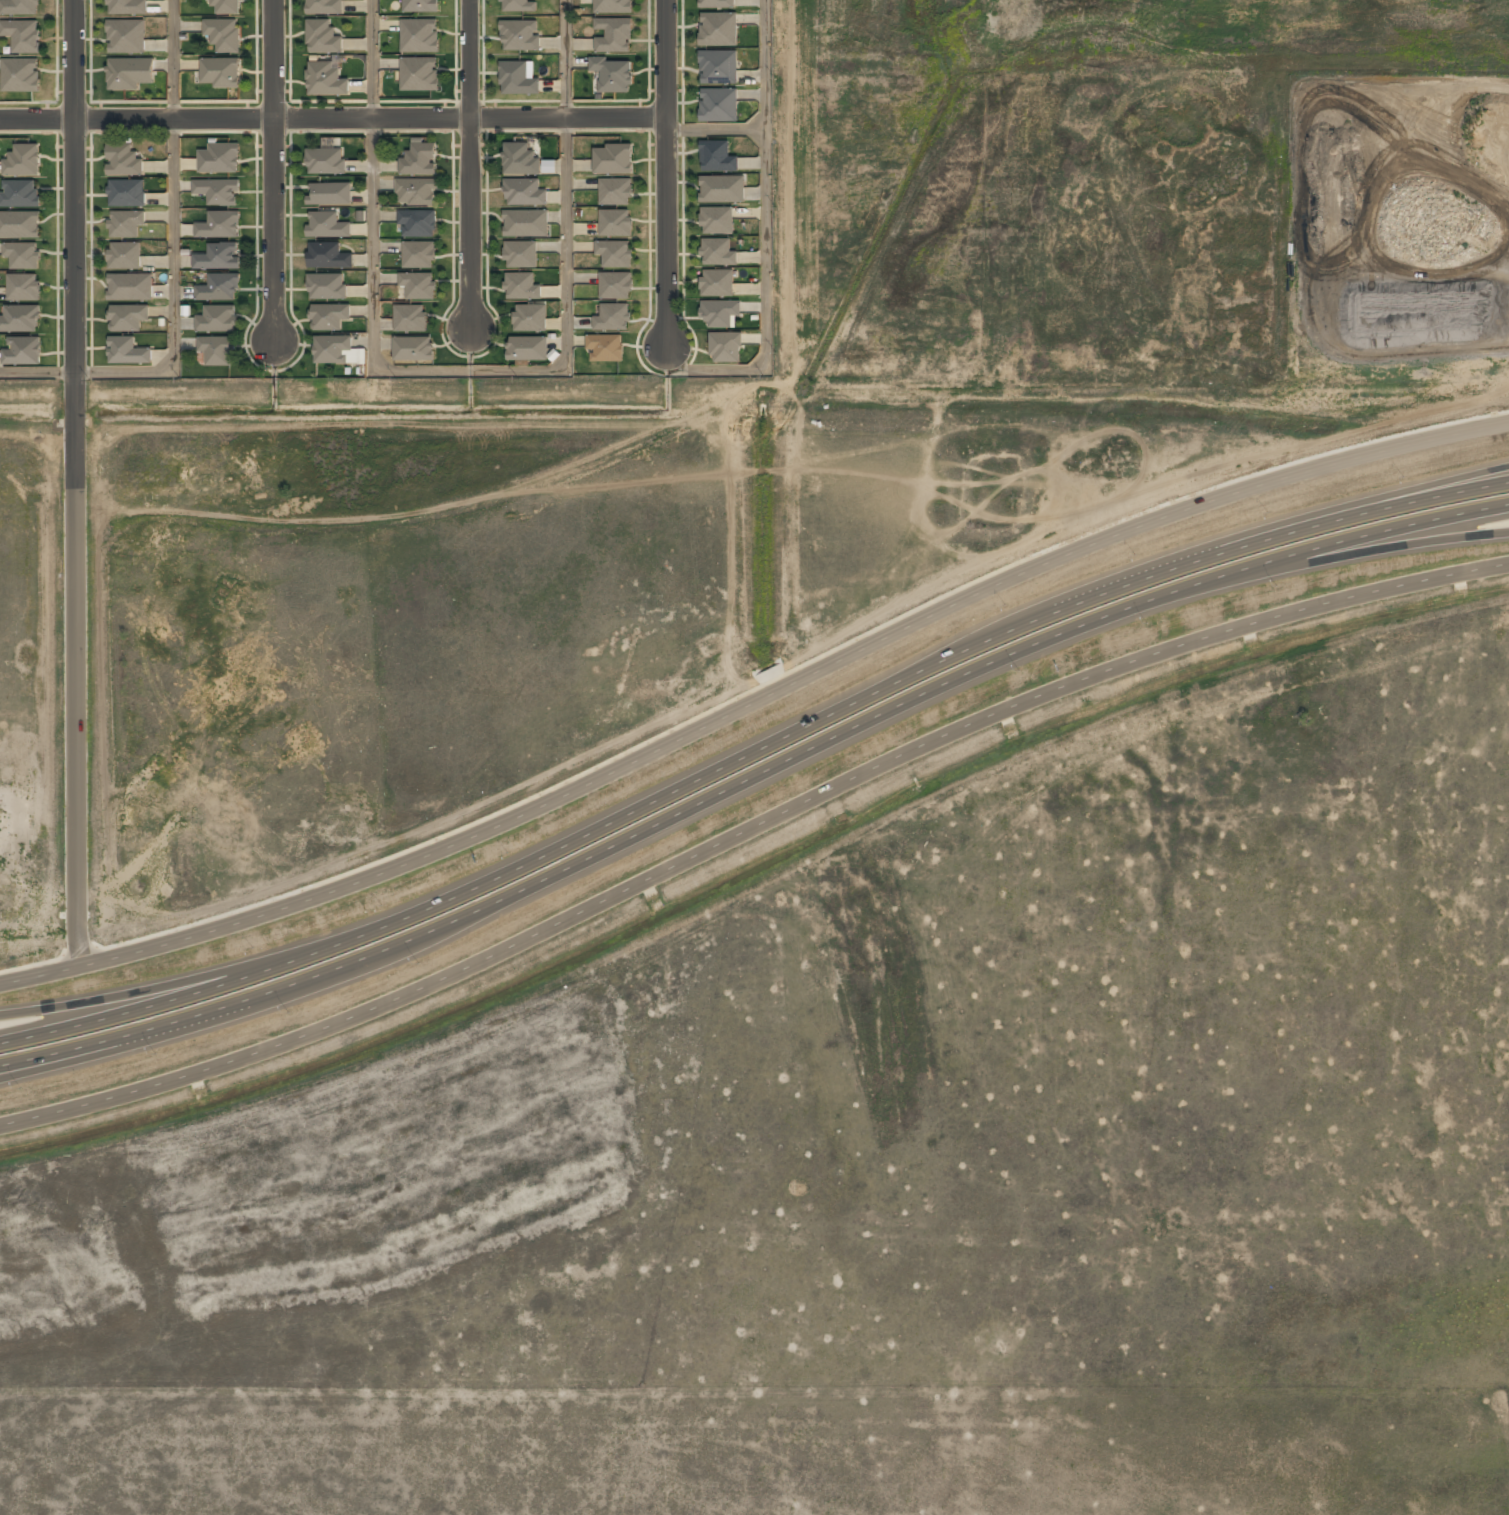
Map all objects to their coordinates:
building: (415, 4)
building: (717, 4)
building: (227, 6)
building: (524, 6)
building: (613, 6)
building: (19, 7)
building: (128, 7)
building: (325, 7)
building: (719, 29)
building: (223, 34)
building: (22, 35)
building: (127, 36)
building: (420, 36)
building: (525, 36)
building: (614, 36)
building: (323, 37)
building: (719, 67)
building: (131, 73)
building: (224, 73)
building: (420, 74)
building: (613, 75)
building: (21, 76)
building: (523, 79)
building: (325, 80)
building: (719, 105)
road: (332, 117)
road: (714, 127)
building: (717, 157)
building: (518, 158)
building: (219, 159)
building: (614, 159)
building: (420, 160)
building: (24, 161)
building: (124, 161)
building: (326, 162)
road: (467, 162)
road: (665, 170)
road: (274, 172)
building: (723, 190)
building: (416, 191)
building: (218, 192)
building: (615, 192)
building: (508, 193)
building: (21, 194)
building: (127, 194)
building: (331, 195)
building: (718, 220)
building: (419, 223)
building: (520, 223)
building: (615, 223)
building: (20, 224)
building: (125, 225)
building: (327, 226)
building: (219, 227)
road: (764, 243)
building: (718, 253)
building: (521, 254)
building: (615, 254)
building: (420, 255)
building: (22, 256)
building: (124, 257)
building: (329, 257)
building: (218, 258)
road: (173, 272)
building: (716, 283)
building: (418, 286)
building: (522, 286)
building: (616, 286)
building: (328, 287)
building: (24, 288)
building: (130, 288)
building: (219, 289)
building: (720, 313)
building: (329, 317)
building: (613, 317)
building: (410, 318)
building: (21, 319)
building: (128, 319)
building: (531, 319)
building: (217, 320)
building: (726, 347)
building: (414, 349)
building: (528, 349)
building: (607, 349)
building: (332, 350)
building: (216, 351)
building: (23, 352)
building: (128, 352)
road: (469, 369)
road: (70, 481)
road: (1431, 538)
road: (753, 700)
road: (836, 701)
road: (751, 784)
road: (749, 830)
road: (92, 1000)
road: (93, 1015)

